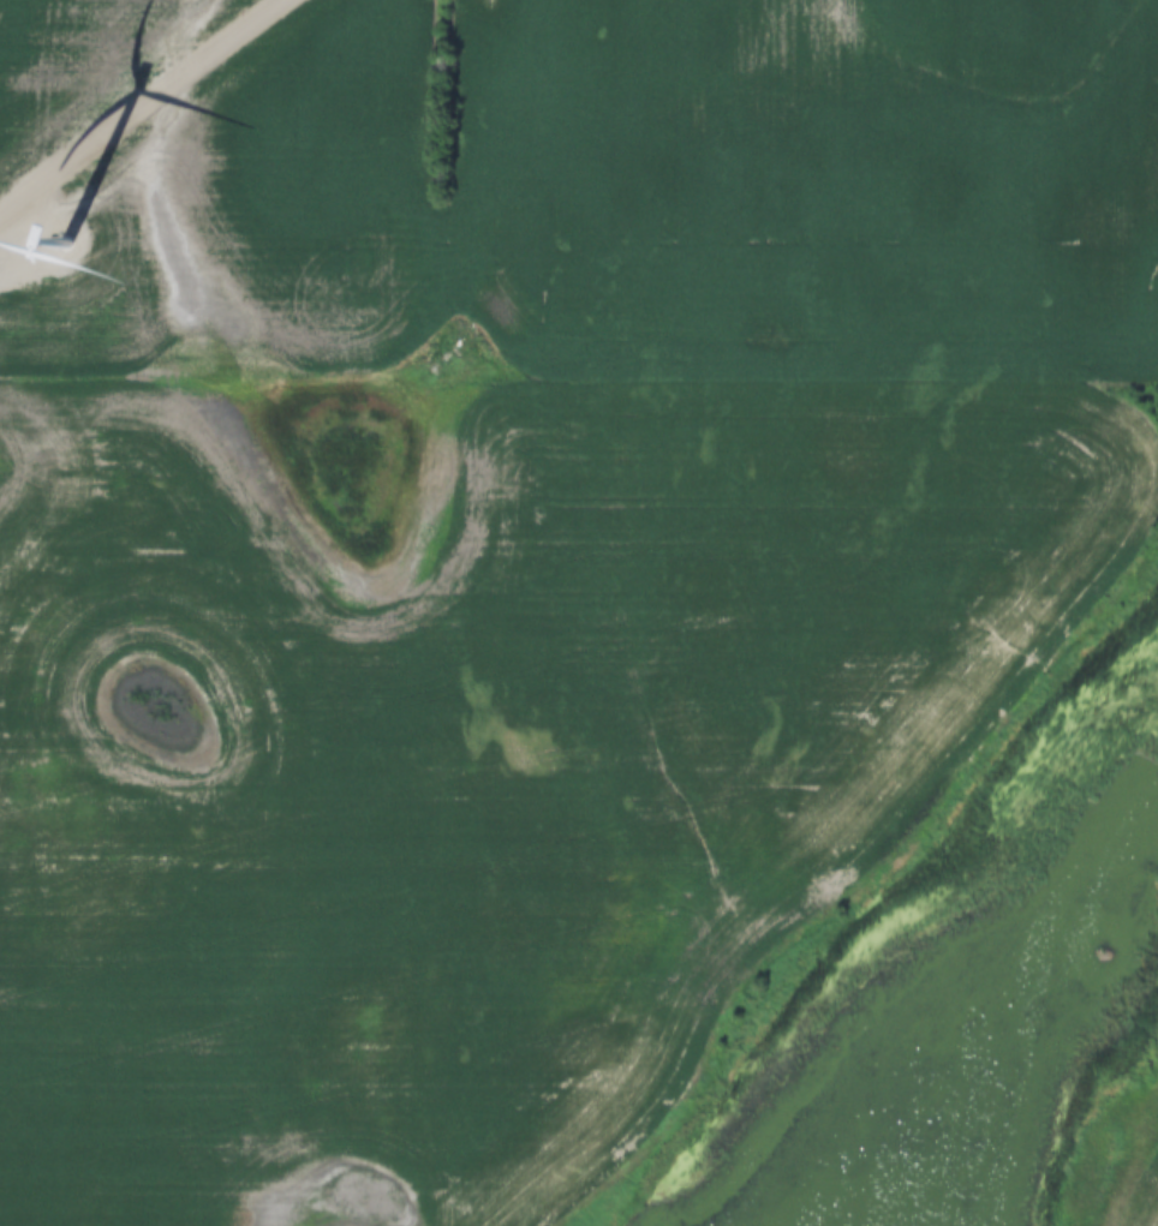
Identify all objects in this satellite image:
wind turbine: (60, 246)

